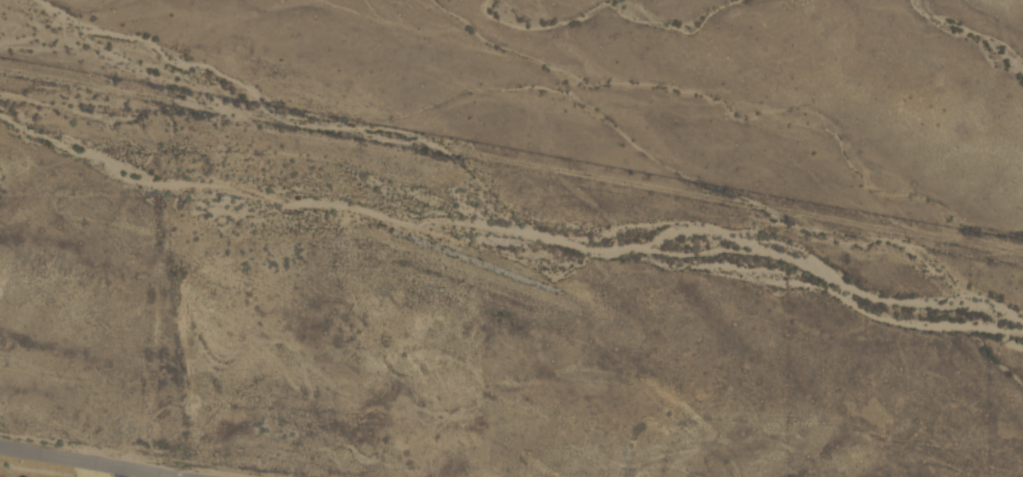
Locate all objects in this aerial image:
road: (90, 461)

